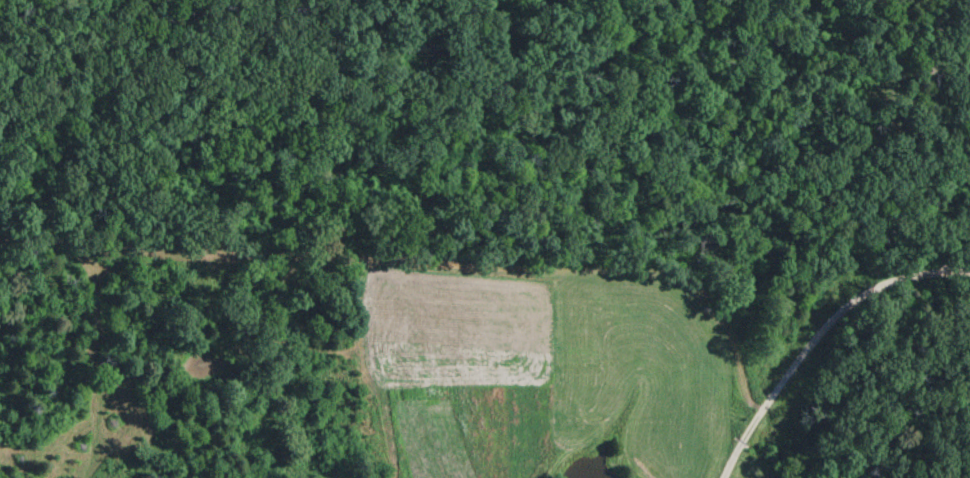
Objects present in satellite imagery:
road: (818, 335)

